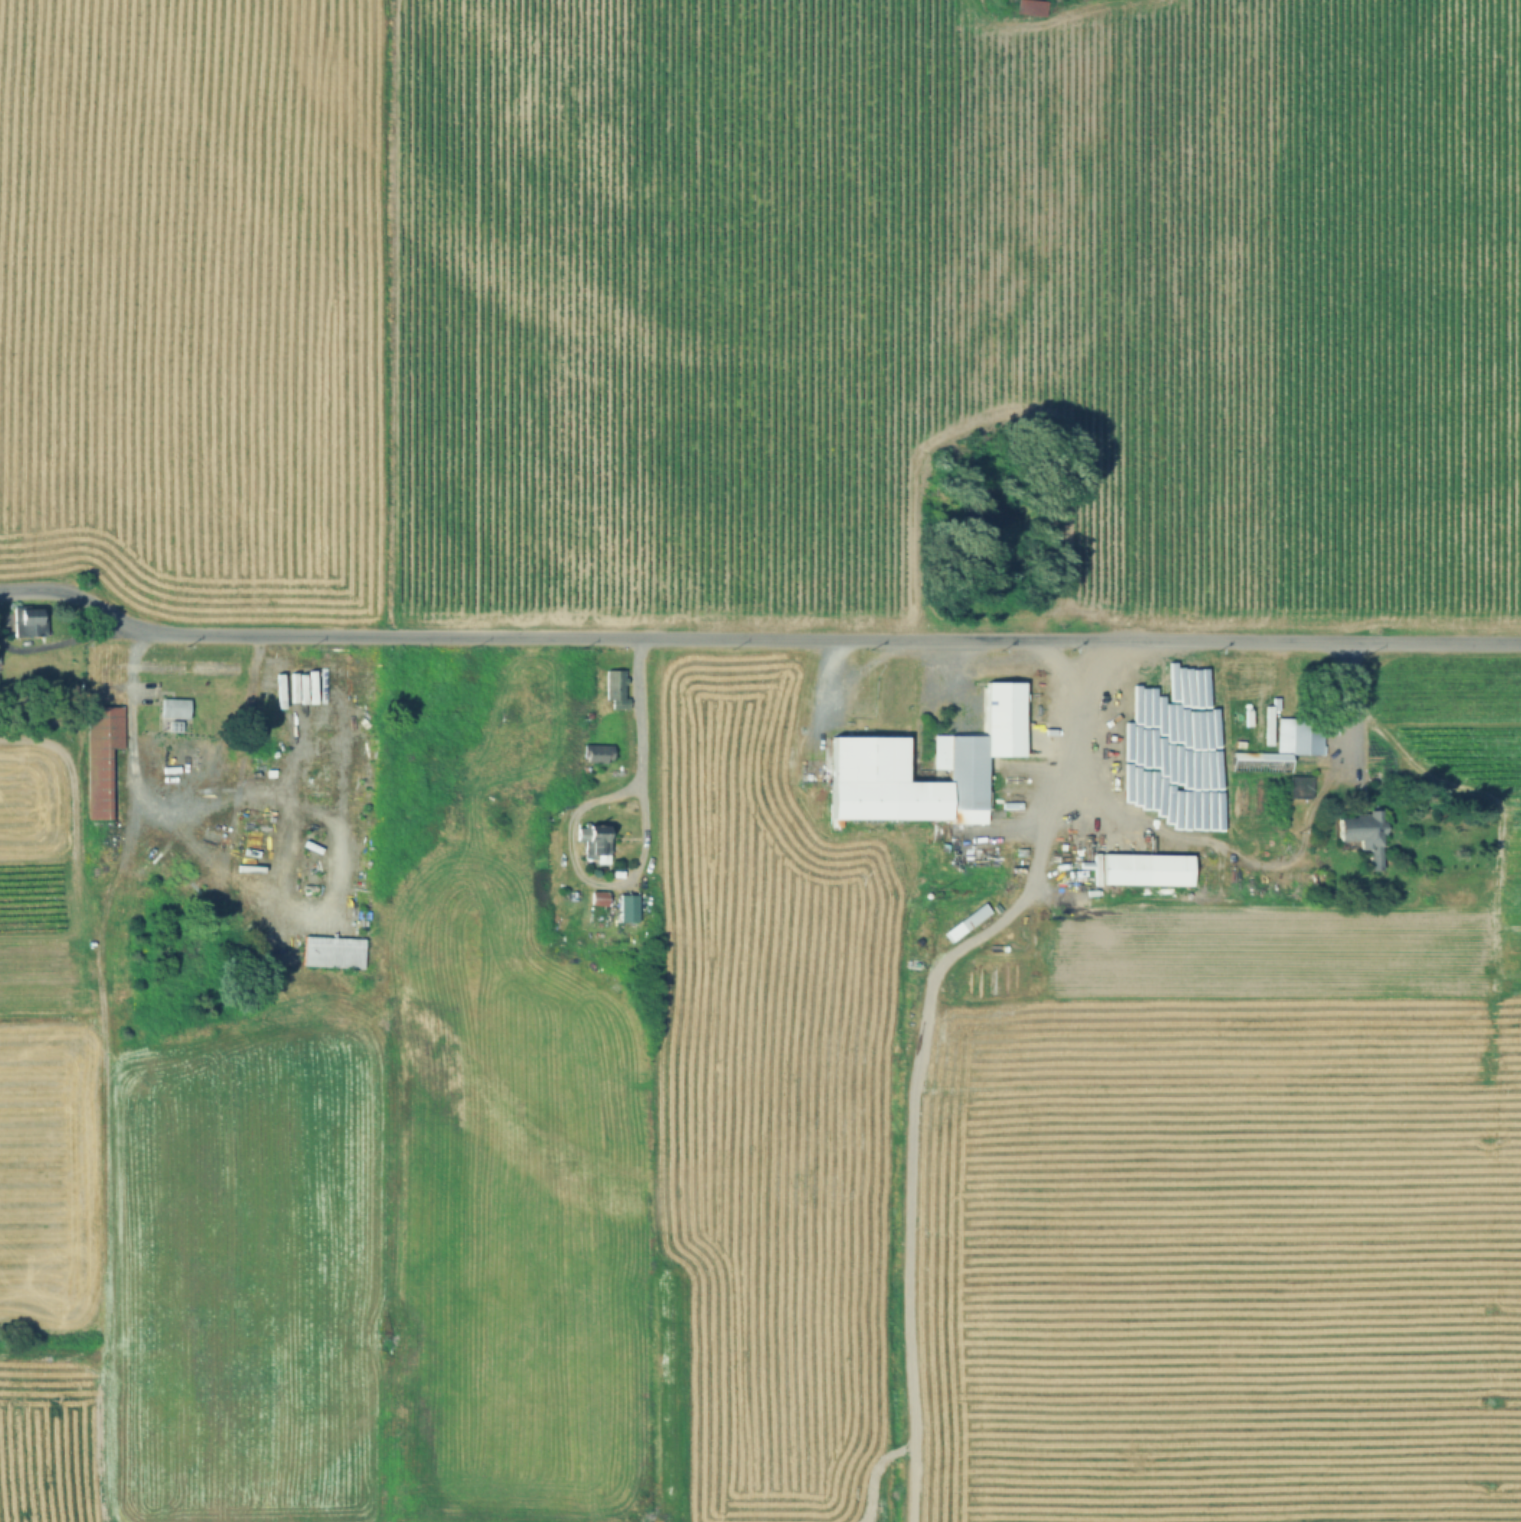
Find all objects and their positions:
crop: (607, 593)
building: (26, 622)
road: (756, 637)
building: (612, 687)
building: (1281, 745)
building: (974, 746)
building: (596, 753)
building: (100, 756)
building: (407, 769)
building: (1007, 776)
building: (1360, 832)
building: (592, 842)
road: (1218, 854)
road: (639, 856)
building: (1143, 869)
building: (1310, 882)
building: (596, 898)
building: (626, 908)
road: (302, 919)
building: (141, 926)
crop: (1079, 1166)
crop: (49, 1440)

